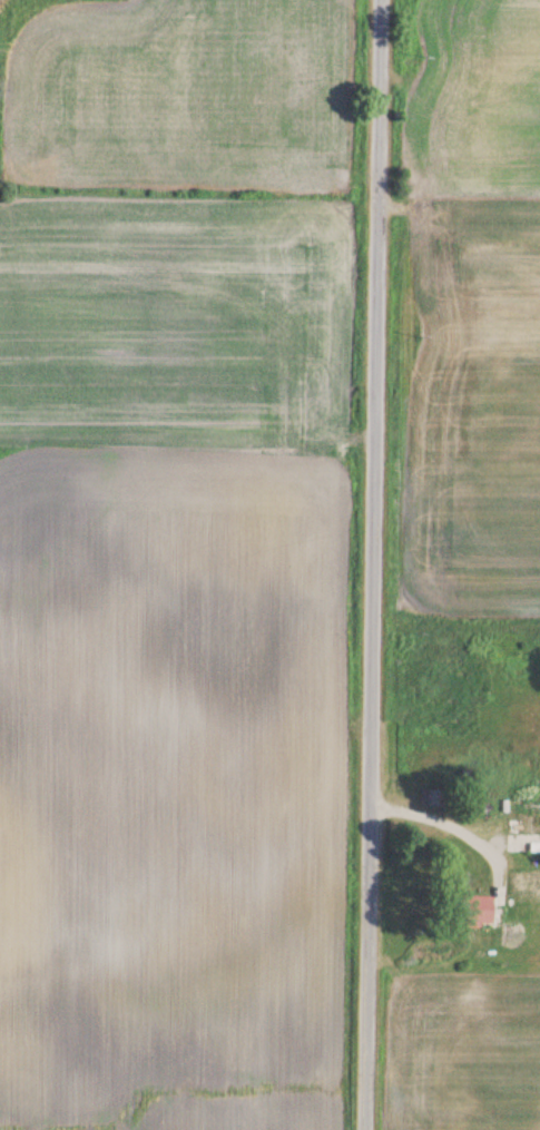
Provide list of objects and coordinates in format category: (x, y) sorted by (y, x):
crop: (474, 94)
crop: (473, 405)
road: (366, 564)
road: (444, 823)
building: (521, 827)
building: (526, 878)
building: (468, 912)
crop: (465, 1052)

